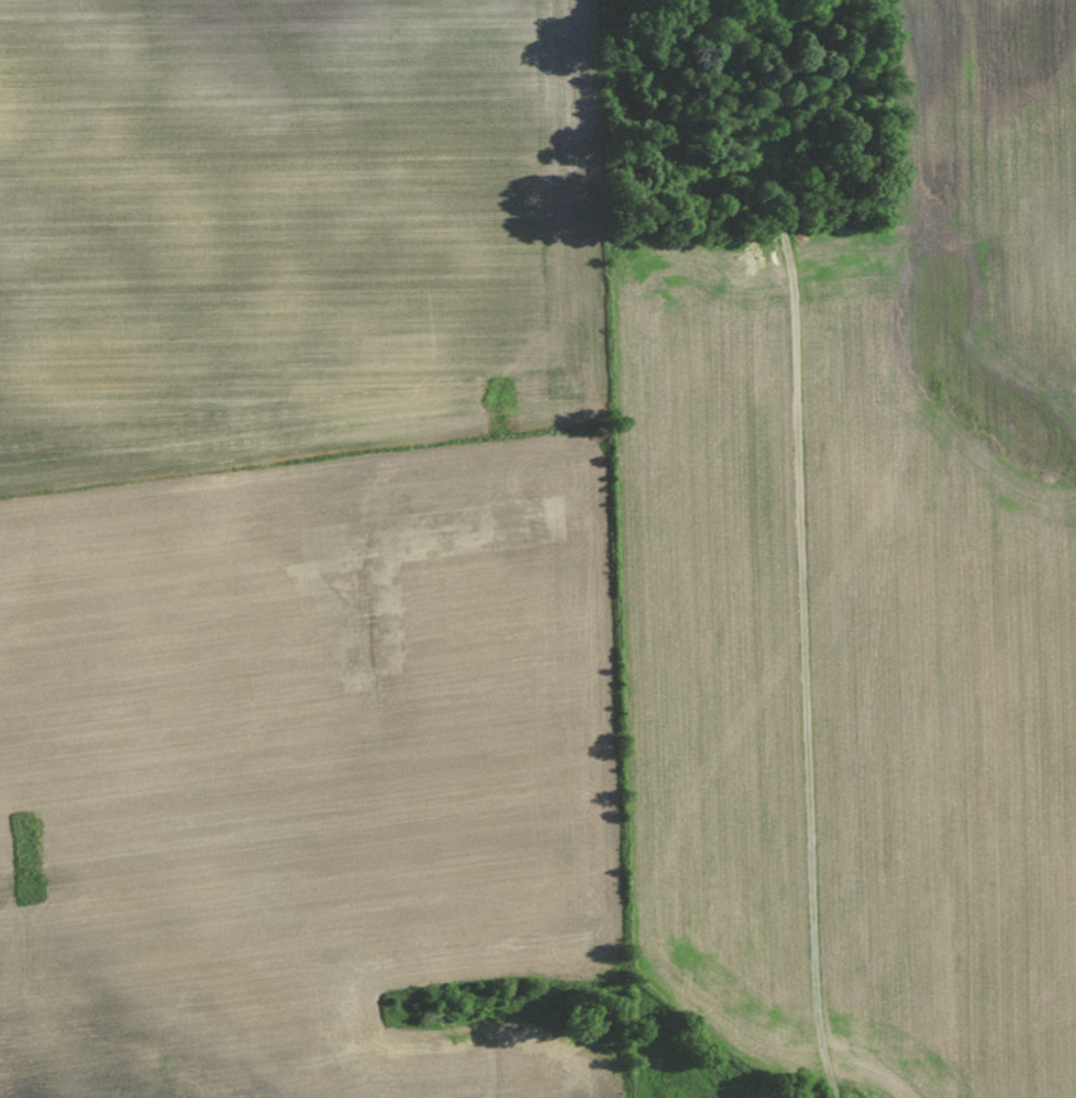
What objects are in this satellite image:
road: (163, 479)
road: (555, 1075)

